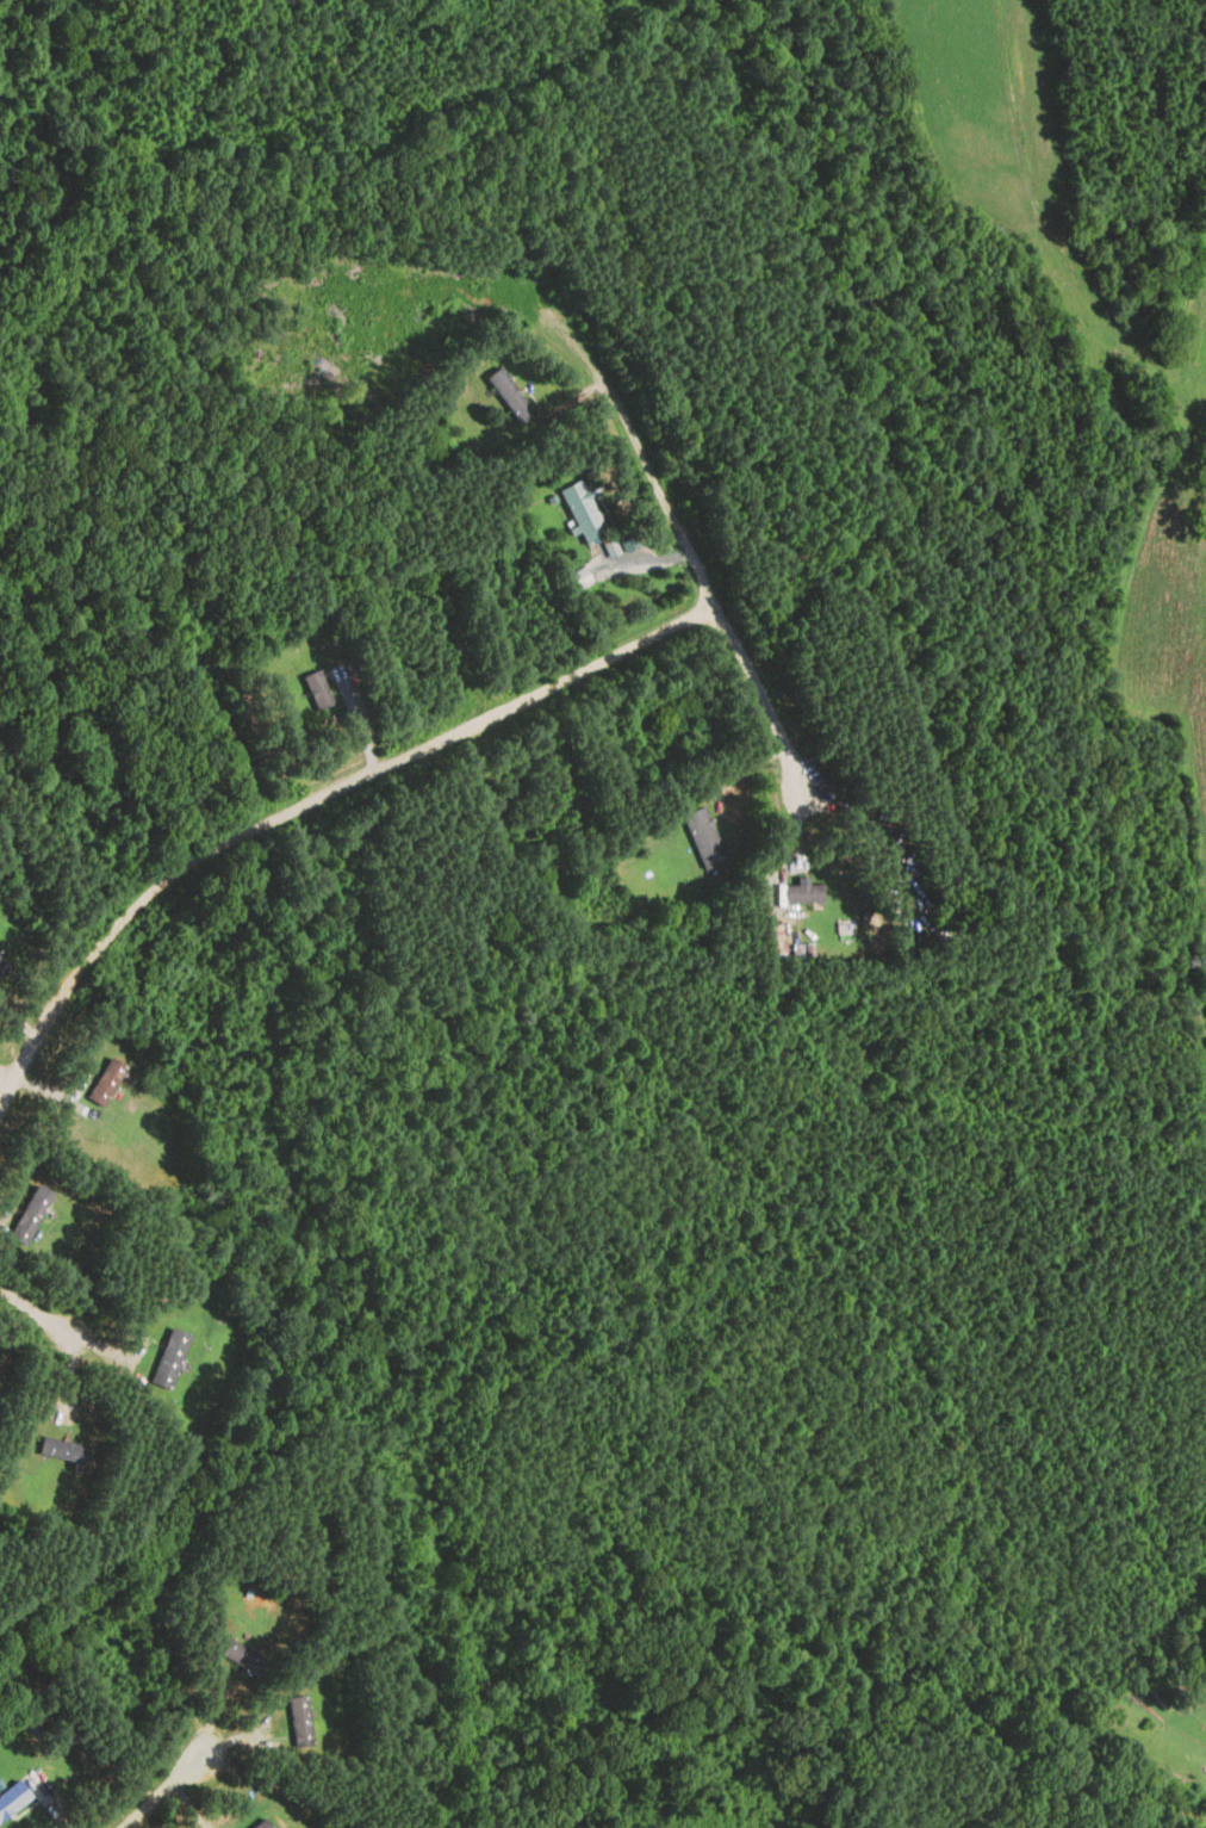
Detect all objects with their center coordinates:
road: (1052, 225)
building: (511, 395)
road: (578, 398)
road: (1200, 495)
building: (584, 510)
road: (685, 541)
road: (649, 559)
building: (580, 580)
building: (319, 689)
road: (359, 723)
road: (744, 768)
road: (312, 803)
road: (791, 832)
building: (705, 838)
road: (1182, 855)
building: (806, 894)
building: (4, 968)
road: (19, 1020)
road: (7, 1074)
building: (107, 1083)
road: (52, 1097)
building: (31, 1215)
road: (36, 1312)
road: (113, 1356)
building: (172, 1358)
road: (68, 1380)
building: (64, 1450)
building: (1185, 1638)
building: (243, 1657)
building: (1157, 1693)
road: (213, 1717)
building: (301, 1722)
road: (238, 1740)
road: (167, 1793)
building: (13, 1801)
road: (48, 1804)
road: (187, 1809)
building: (263, 1824)

